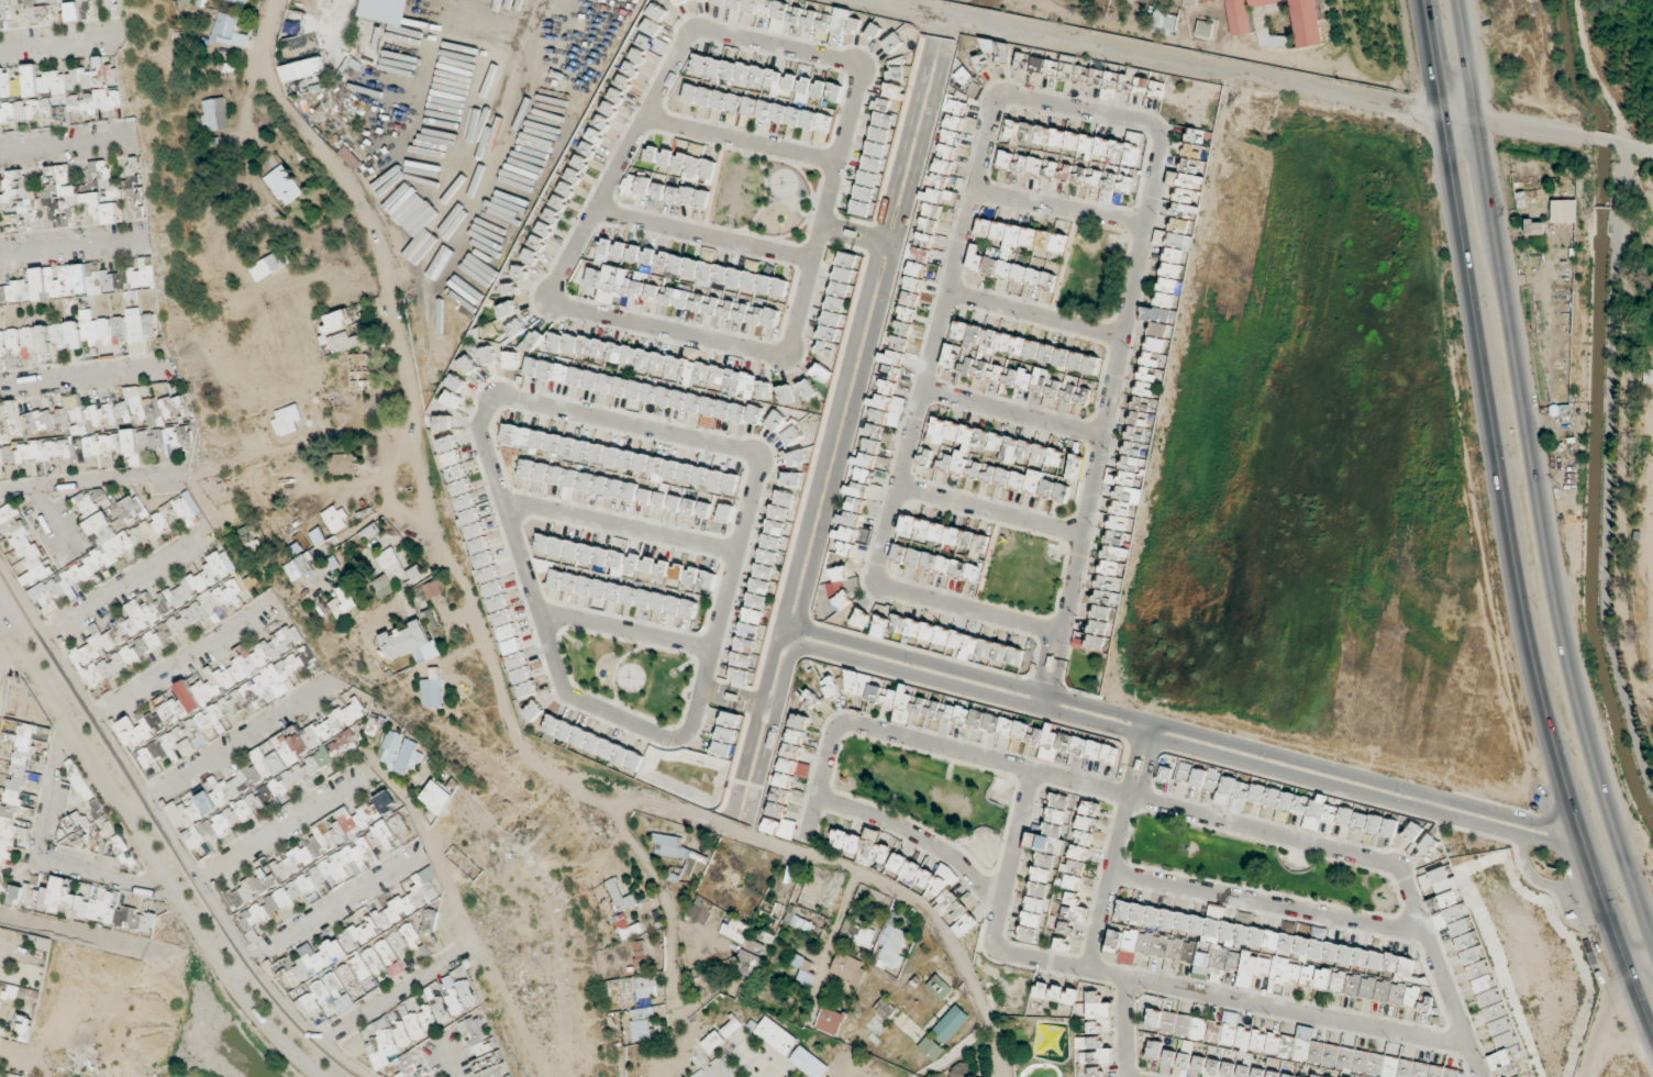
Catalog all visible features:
park: (1651, 480)
park: (1651, 578)

